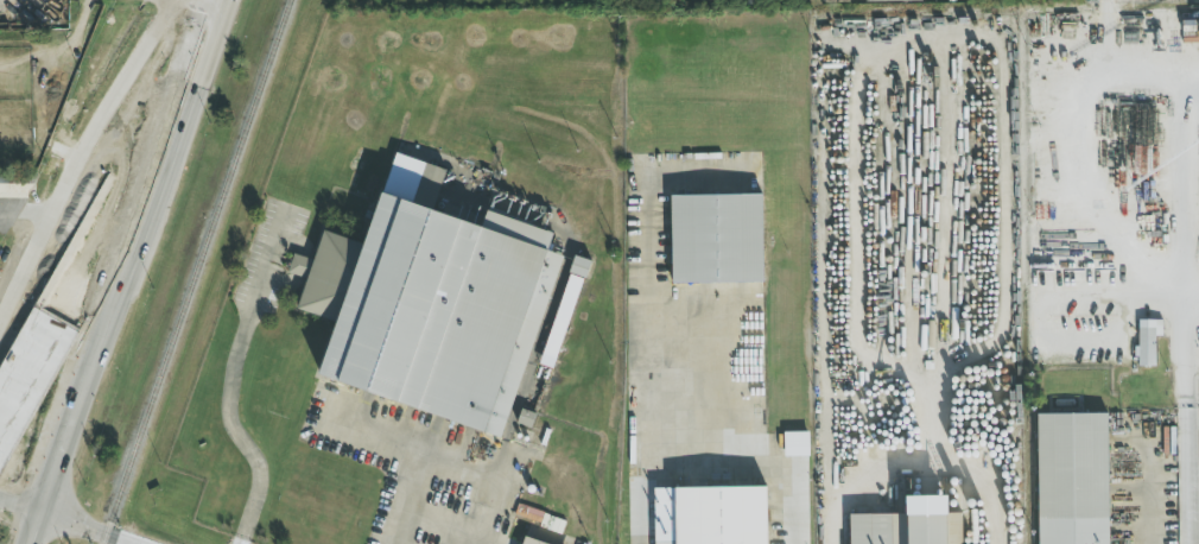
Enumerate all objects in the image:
building: (889, 0)
road: (164, 90)
road: (191, 95)
road: (77, 157)
road: (1091, 159)
building: (518, 210)
building: (716, 239)
railway: (194, 271)
road: (652, 273)
road: (1192, 282)
road: (62, 287)
road: (132, 303)
building: (431, 303)
building: (565, 308)
road: (72, 317)
building: (1148, 341)
road: (228, 375)
road: (1188, 412)
building: (797, 444)
road: (414, 451)
road: (919, 463)
road: (717, 466)
building: (1072, 479)
road: (1143, 493)
road: (407, 499)
road: (21, 506)
building: (710, 515)
building: (909, 525)
road: (84, 527)
building: (529, 542)

